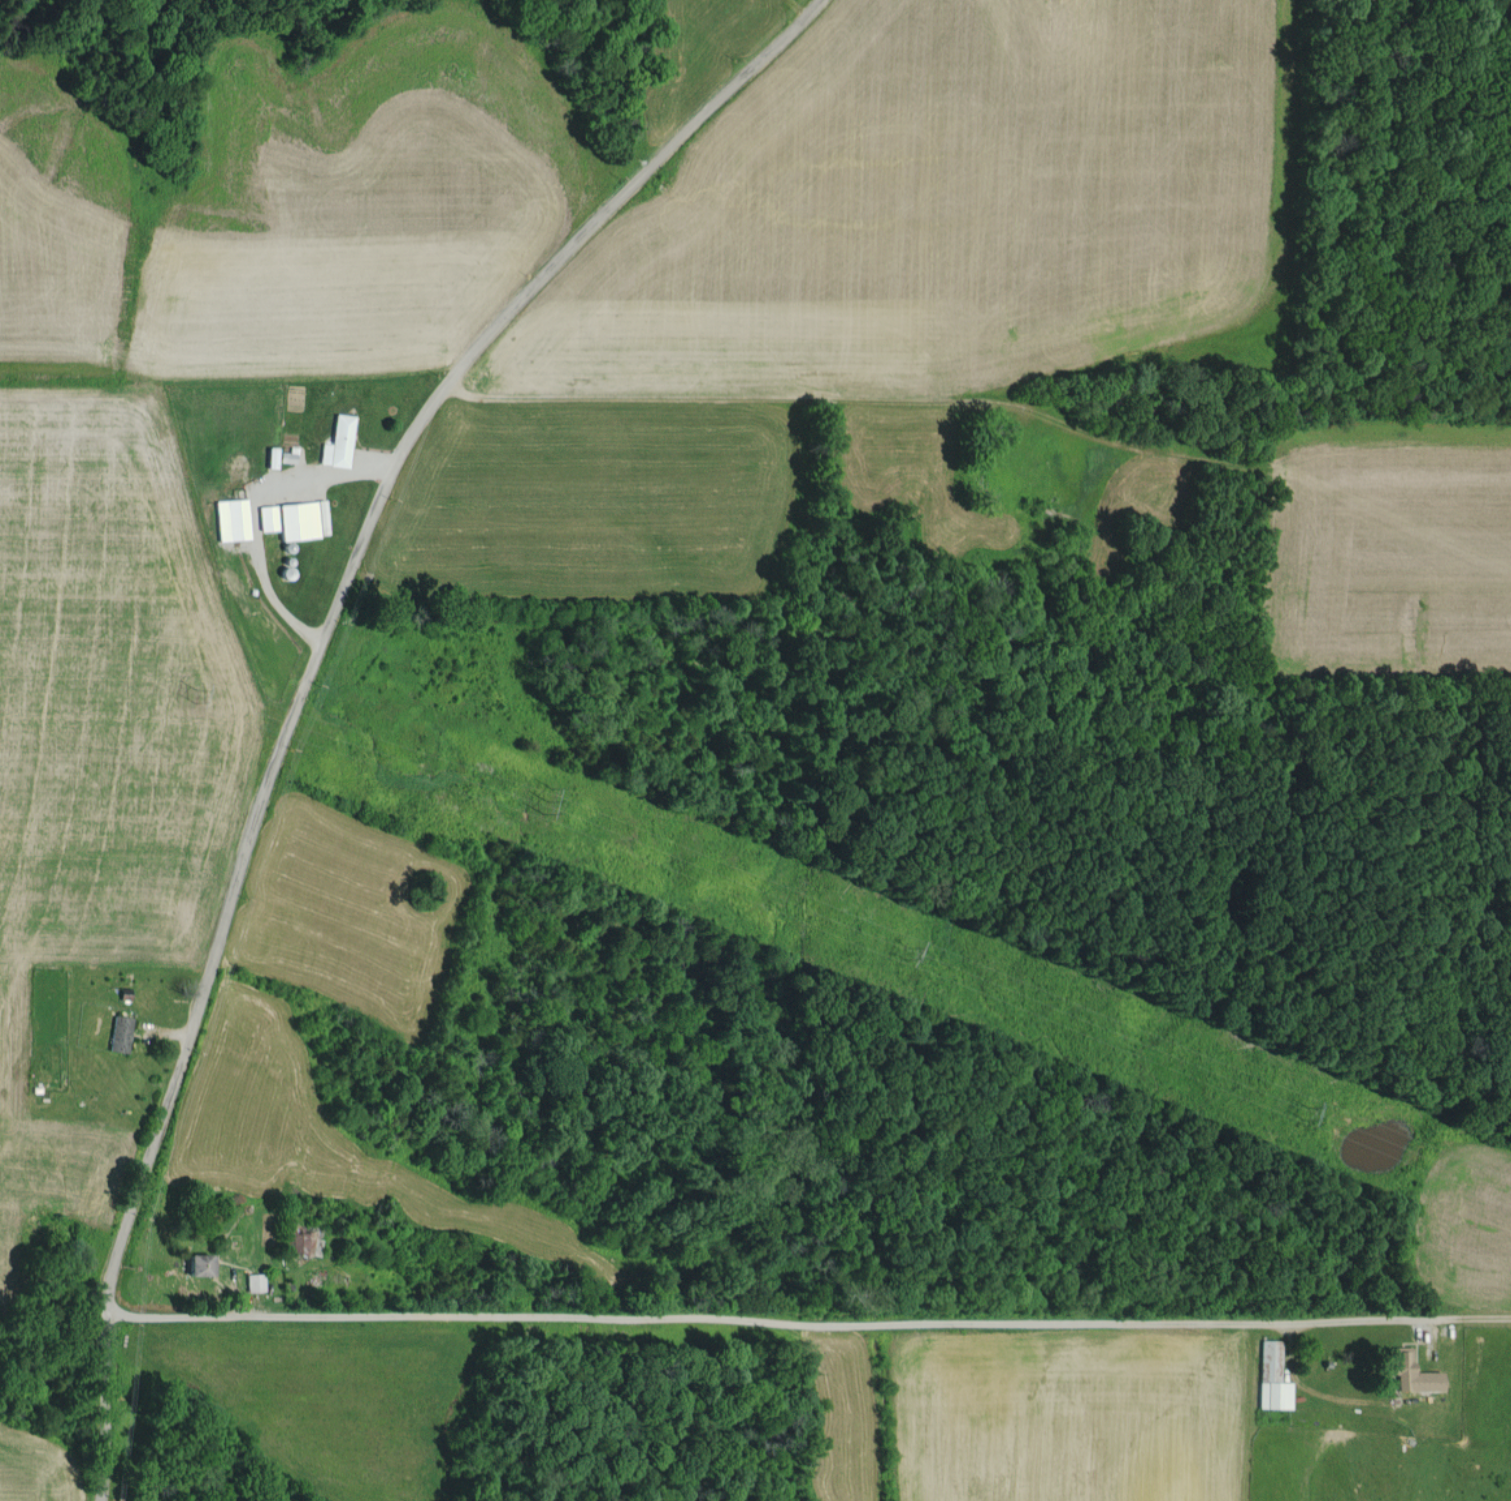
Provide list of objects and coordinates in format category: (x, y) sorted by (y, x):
road: (709, 421)
building: (339, 441)
building: (268, 517)
building: (233, 518)
road: (254, 518)
road: (306, 674)
power tower: (194, 695)
power tower: (541, 801)
power tower: (902, 955)
building: (120, 1033)
power tower: (1301, 1113)
building: (201, 1264)
building: (255, 1281)
road: (807, 1335)
building: (1414, 1373)
building: (1273, 1377)

